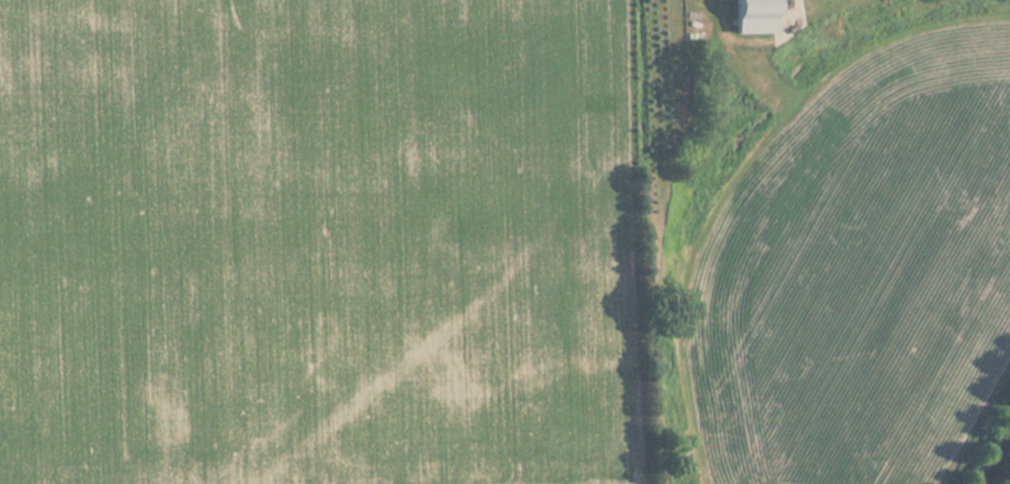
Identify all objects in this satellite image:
building: (757, 17)
river: (1003, 467)

